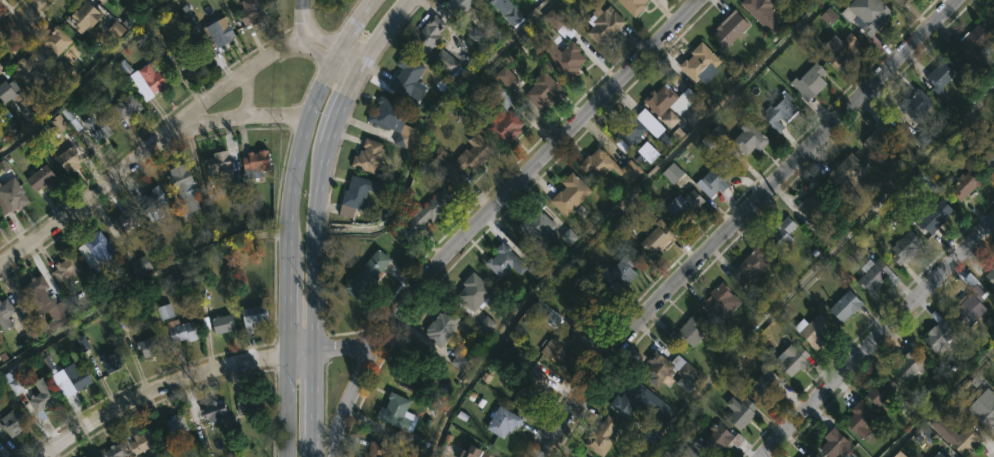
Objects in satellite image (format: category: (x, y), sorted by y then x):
building: (117, 0)
building: (487, 0)
building: (903, 1)
building: (108, 2)
building: (463, 5)
building: (635, 5)
building: (758, 6)
building: (252, 11)
building: (85, 16)
building: (875, 18)
road: (21, 21)
building: (560, 24)
building: (604, 25)
building: (730, 29)
road: (358, 30)
building: (220, 33)
building: (426, 33)
road: (390, 36)
building: (56, 41)
road: (323, 44)
building: (974, 44)
building: (843, 48)
building: (186, 58)
building: (566, 59)
building: (700, 62)
building: (449, 64)
building: (35, 68)
building: (943, 73)
building: (153, 76)
building: (407, 76)
road: (84, 79)
building: (811, 81)
building: (544, 90)
road: (249, 92)
building: (17, 98)
building: (661, 99)
building: (914, 103)
building: (126, 106)
road: (344, 110)
building: (781, 111)
building: (505, 117)
road: (240, 118)
building: (394, 121)
building: (98, 127)
building: (631, 131)
building: (880, 136)
building: (749, 140)
road: (154, 144)
building: (72, 156)
building: (369, 156)
building: (465, 159)
building: (989, 159)
road: (296, 162)
building: (218, 163)
building: (257, 164)
building: (599, 164)
building: (848, 170)
building: (40, 177)
building: (716, 178)
building: (969, 183)
building: (185, 185)
building: (13, 194)
building: (571, 194)
building: (355, 196)
building: (154, 200)
building: (819, 205)
building: (685, 206)
building: (430, 210)
road: (485, 211)
building: (933, 214)
building: (126, 218)
road: (739, 219)
building: (537, 225)
building: (782, 234)
building: (658, 237)
building: (906, 247)
road: (317, 248)
building: (95, 249)
building: (503, 260)
building: (141, 267)
building: (751, 267)
building: (67, 269)
building: (621, 271)
building: (875, 275)
building: (367, 276)
building: (991, 276)
road: (137, 283)
building: (475, 292)
building: (586, 300)
building: (718, 300)
building: (47, 302)
building: (846, 306)
building: (972, 306)
building: (6, 311)
building: (165, 313)
road: (287, 313)
building: (256, 315)
building: (223, 324)
building: (442, 327)
building: (813, 329)
building: (181, 331)
building: (687, 334)
building: (939, 334)
road: (876, 337)
building: (150, 346)
building: (560, 347)
road: (332, 348)
building: (795, 360)
building: (113, 362)
building: (460, 363)
building: (910, 366)
building: (414, 368)
building: (668, 371)
building: (80, 380)
building: (767, 383)
building: (532, 387)
building: (881, 390)
road: (155, 391)
road: (319, 398)
building: (631, 399)
building: (43, 400)
building: (252, 405)
road: (287, 405)
building: (215, 410)
building: (398, 413)
building: (741, 413)
building: (987, 415)
building: (862, 419)
building: (503, 422)
building: (12, 423)
building: (177, 423)
building: (956, 432)
building: (602, 436)
building: (141, 439)
building: (721, 440)
building: (835, 443)
building: (114, 450)
building: (376, 450)
road: (317, 451)
building: (475, 453)
building: (942, 454)
building: (669, 455)
building: (686, 455)
building: (694, 455)
building: (810, 455)
building: (580, 456)

